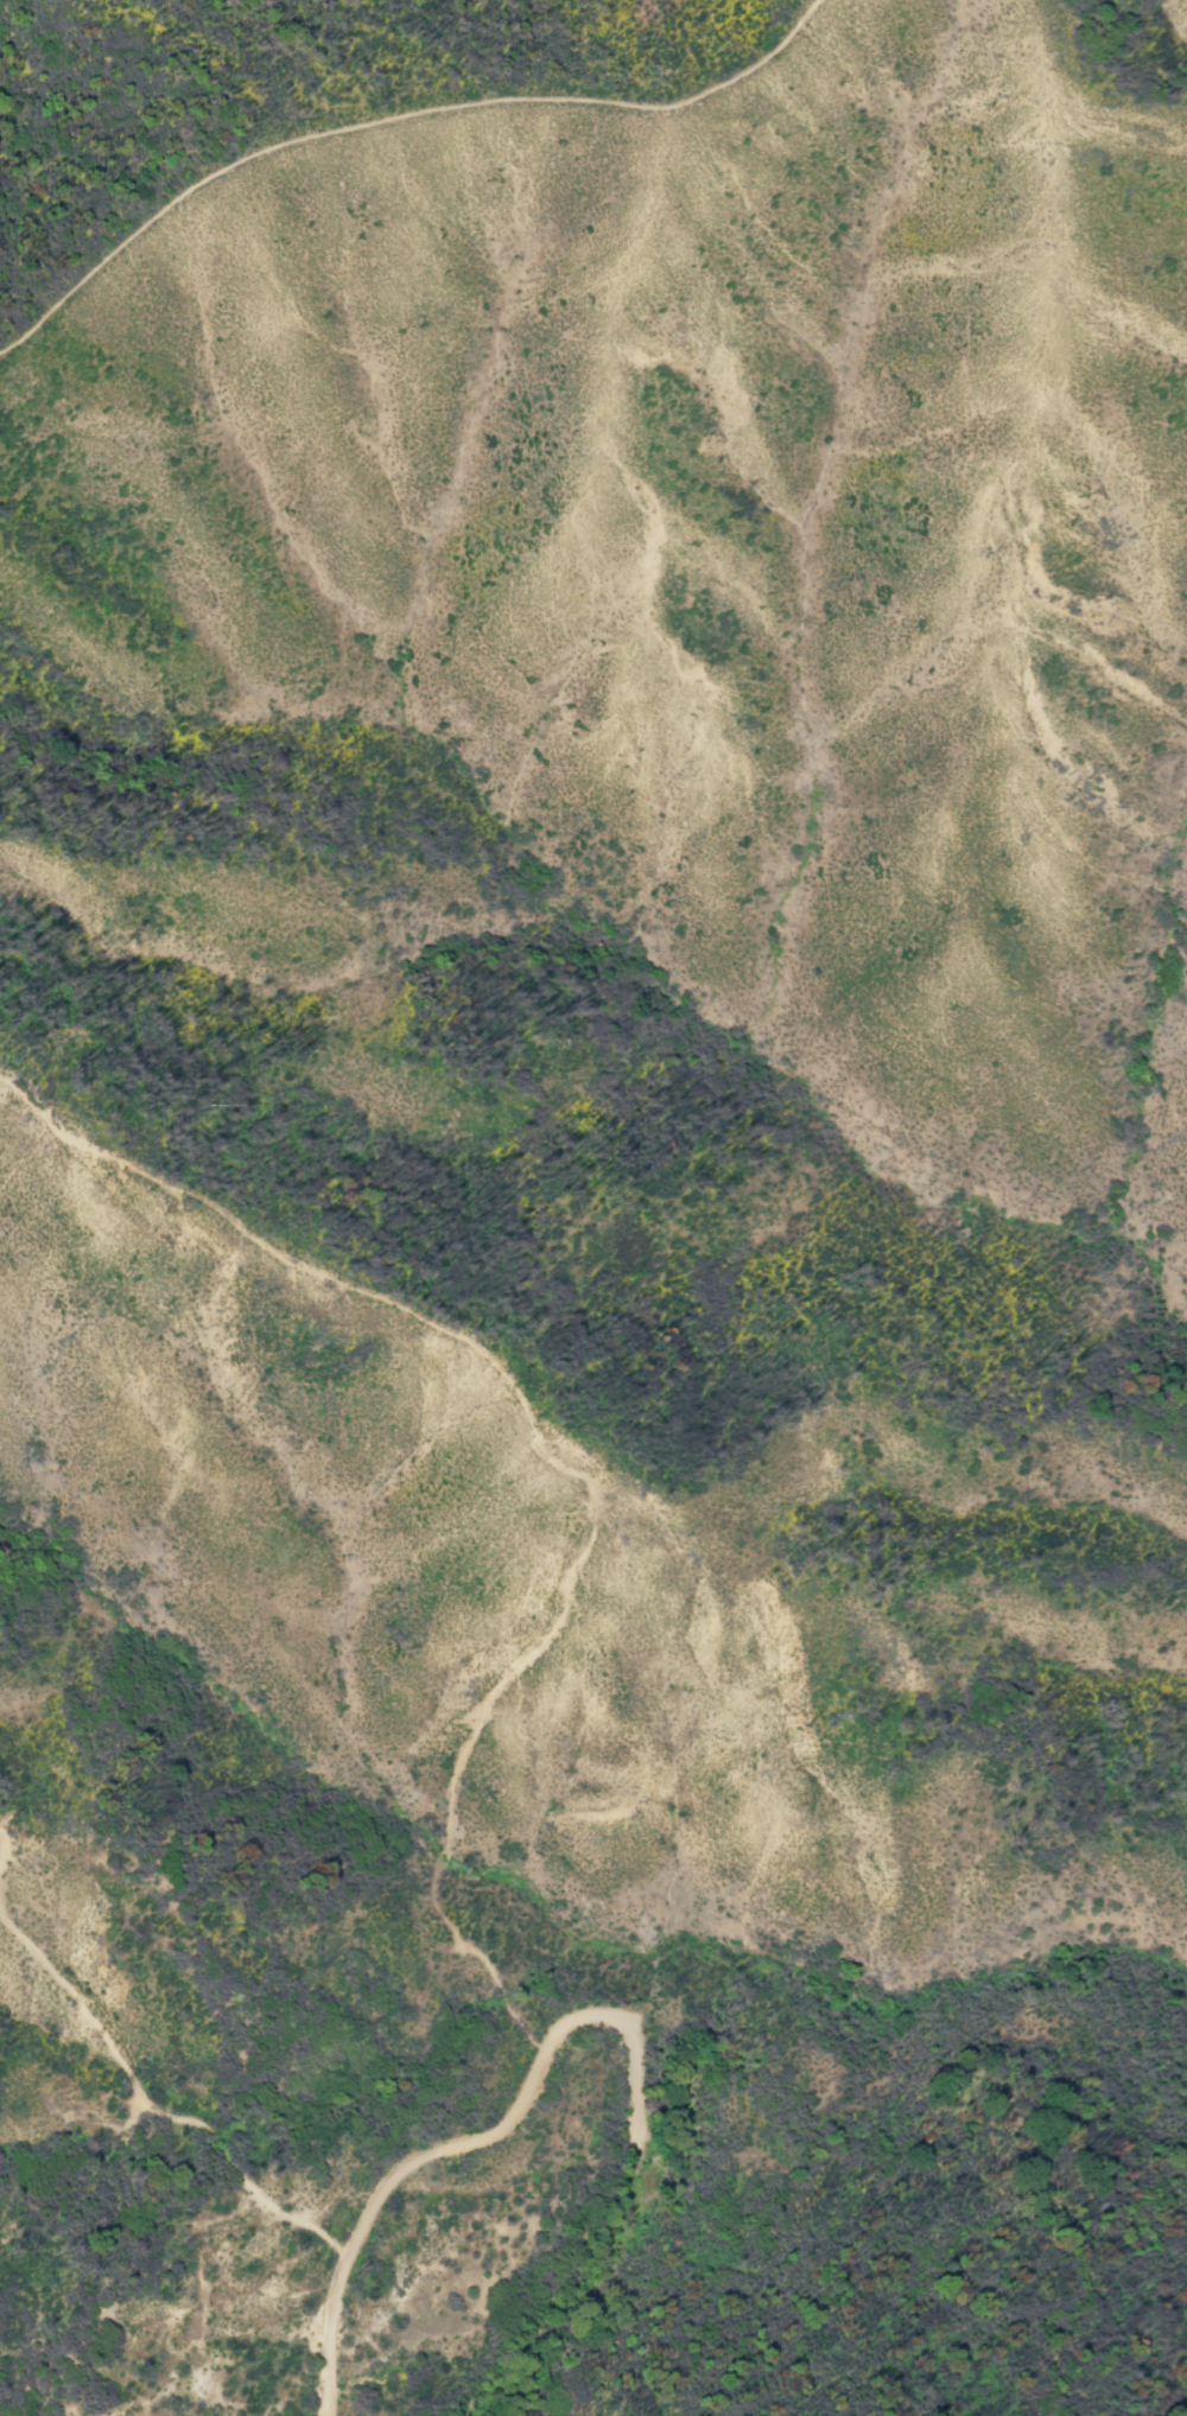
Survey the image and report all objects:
road: (398, 119)
road: (553, 1467)
road: (5, 1851)
road: (1, 1868)
road: (1, 1870)
road: (155, 2109)
road: (476, 2141)

